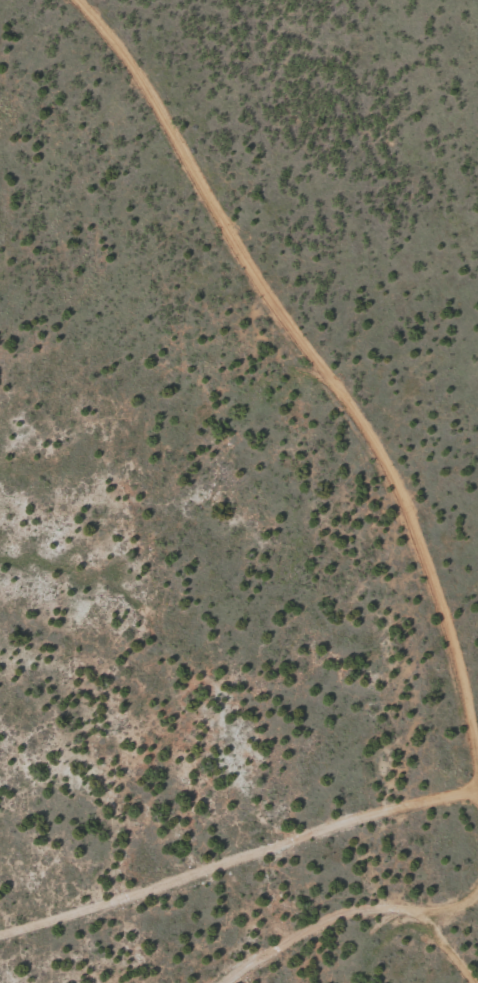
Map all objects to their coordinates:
road: (302, 352)
road: (239, 889)
road: (341, 946)

